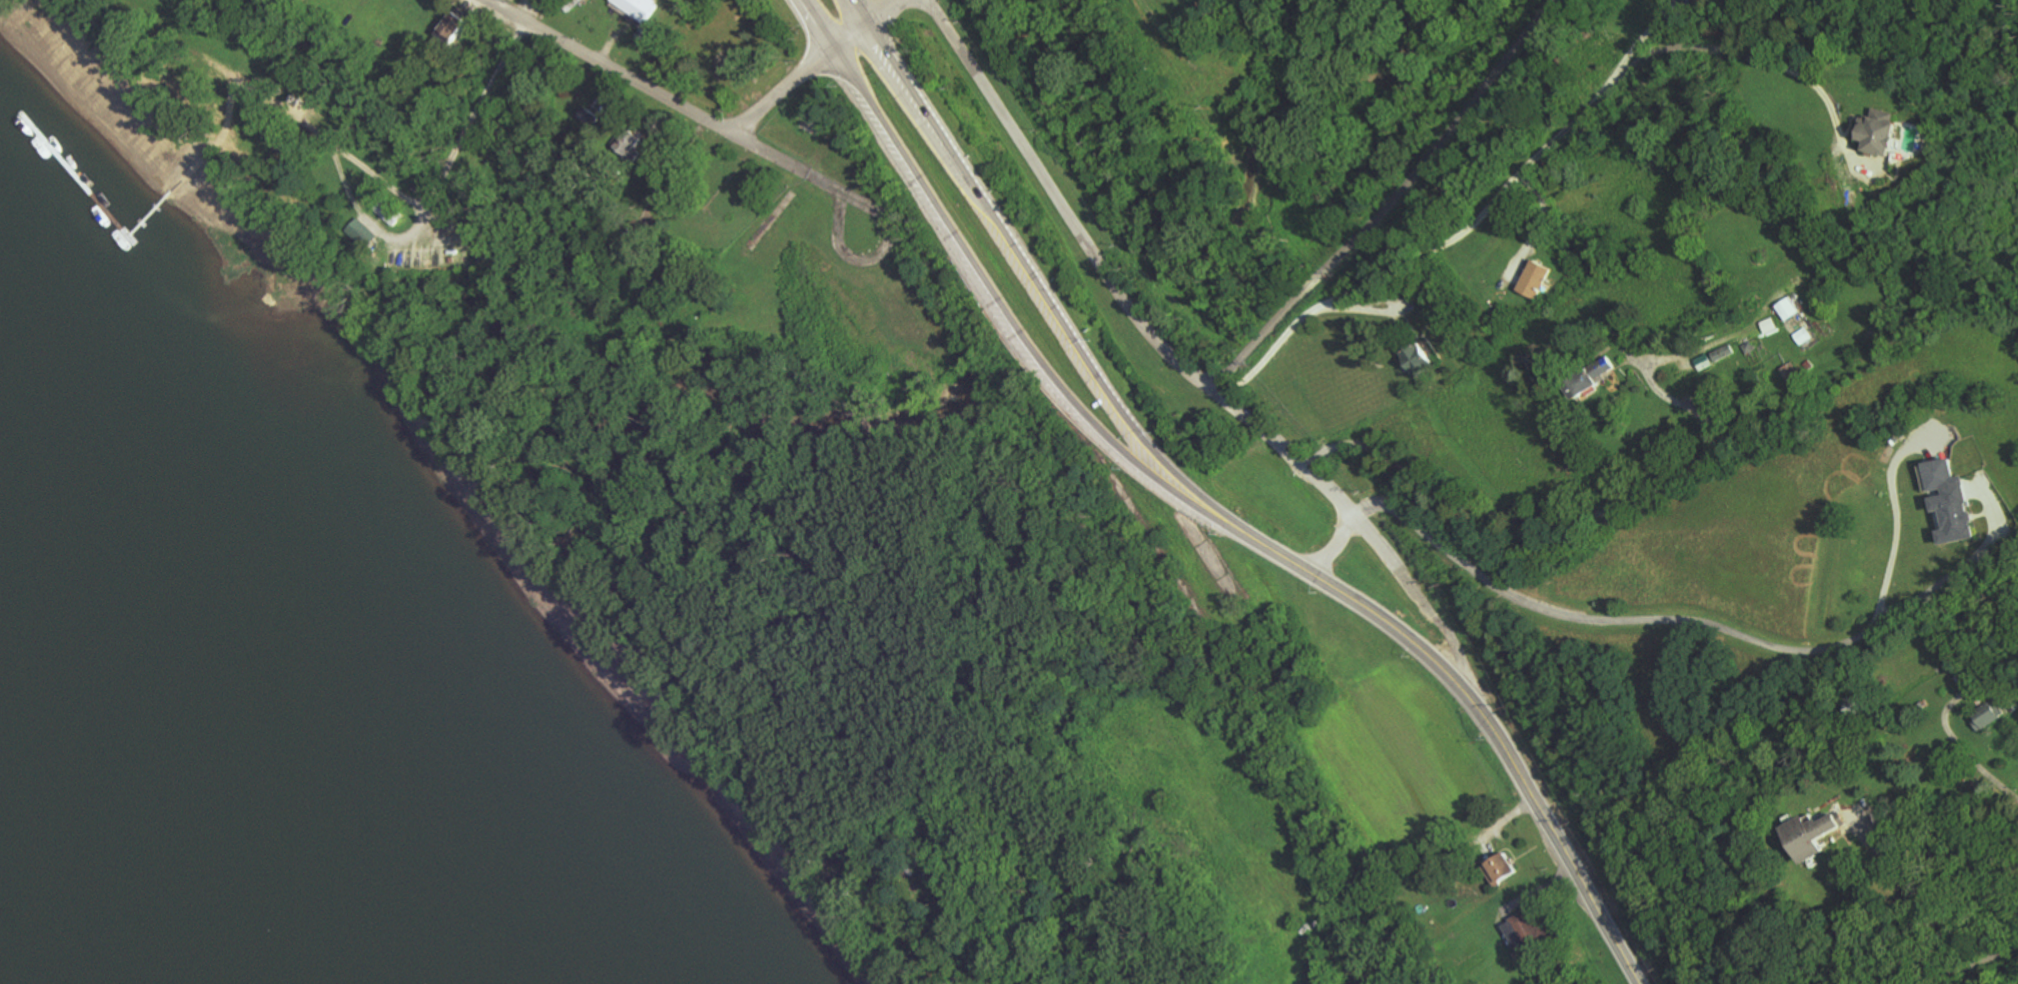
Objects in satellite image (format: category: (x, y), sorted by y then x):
building: (637, 8)
park: (1170, 10)
road: (857, 14)
road: (817, 26)
building: (449, 29)
road: (1642, 56)
road: (816, 66)
road: (227, 88)
road: (663, 95)
road: (917, 105)
building: (588, 117)
building: (1878, 132)
pier: (83, 200)
road: (1391, 203)
building: (360, 232)
road: (401, 238)
road: (881, 263)
road: (1111, 277)
building: (1533, 280)
road: (1329, 301)
building: (1787, 309)
building: (1768, 325)
building: (1802, 336)
road: (1033, 347)
building: (1722, 353)
building: (1416, 360)
building: (1704, 362)
building: (1790, 373)
building: (1589, 380)
road: (1113, 399)
building: (1948, 499)
road: (1553, 517)
road: (1896, 519)
road: (1332, 546)
road: (1392, 562)
road: (1701, 623)
road: (1459, 658)
building: (1987, 714)
road: (1503, 748)
road: (1970, 755)
building: (1809, 834)
building: (1499, 867)
road: (1915, 888)
building: (1524, 933)
road: (1966, 962)

